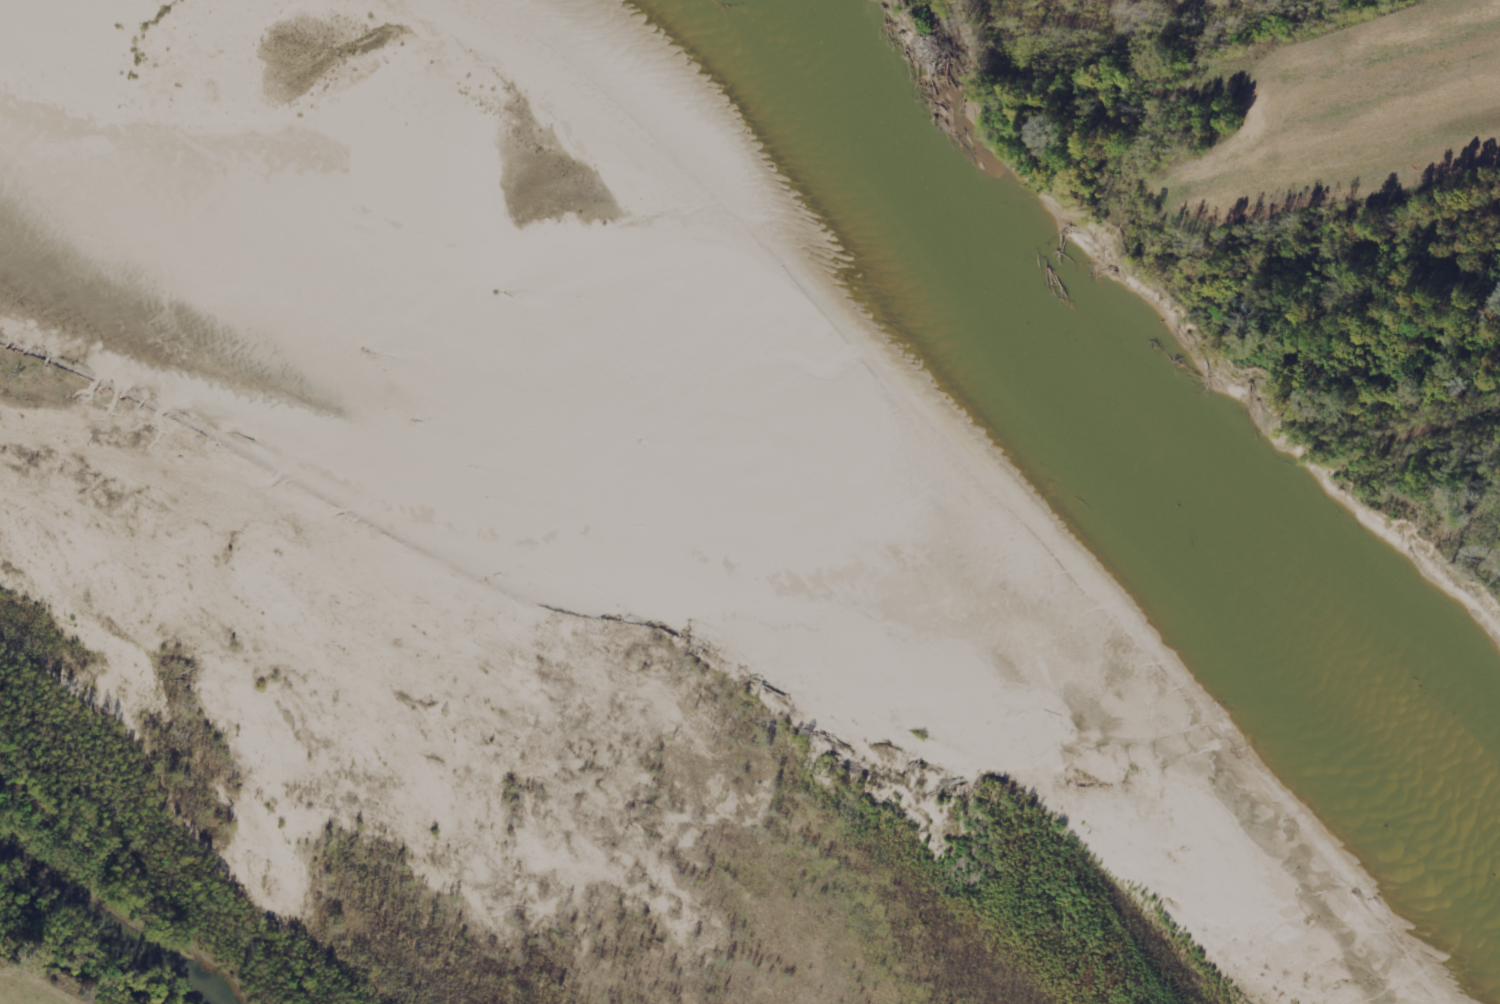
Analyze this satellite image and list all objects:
river: (362, 662)

